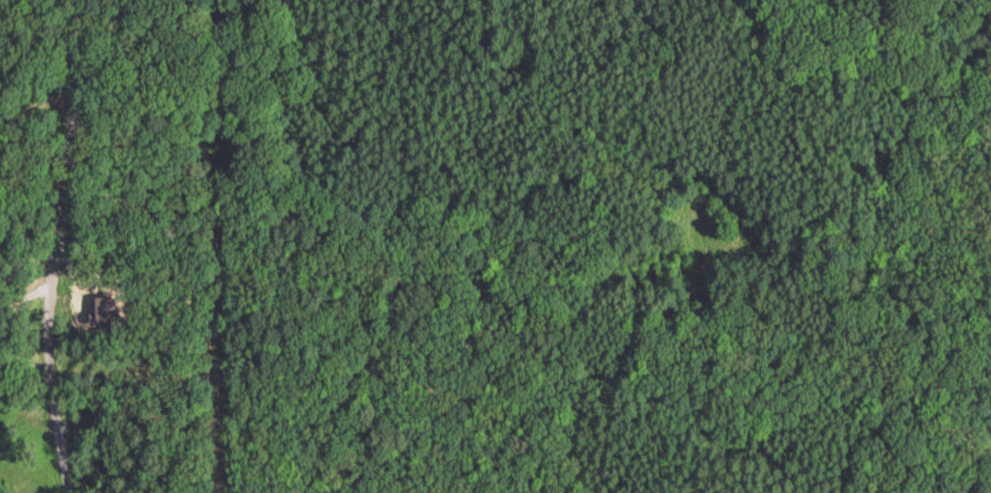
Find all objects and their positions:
road: (266, 57)
road: (67, 61)

